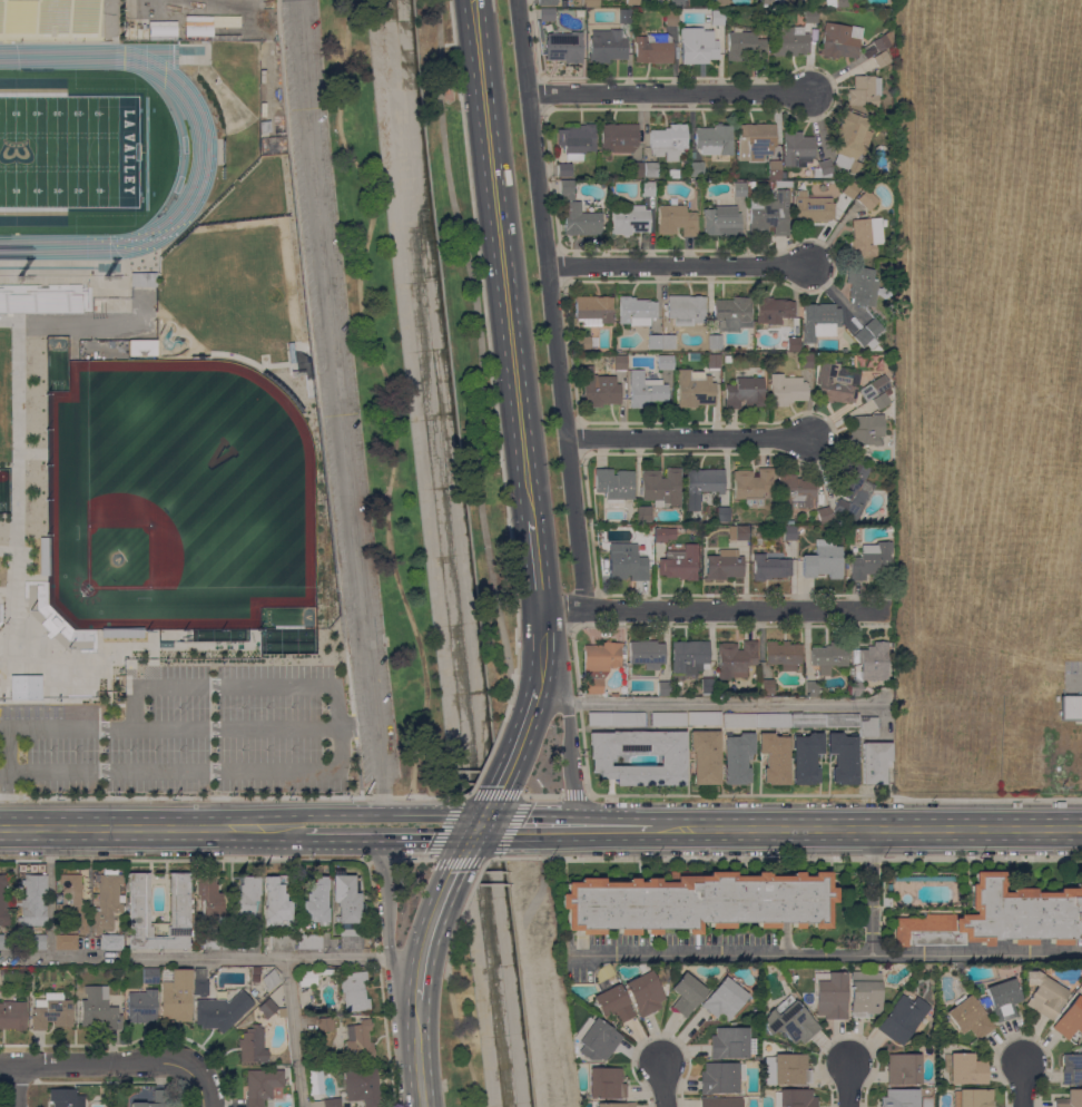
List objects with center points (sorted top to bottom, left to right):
building: (549, 2)
building: (632, 2)
building: (677, 2)
building: (766, 2)
building: (590, 3)
building: (721, 3)
building: (842, 3)
building: (810, 16)
building: (624, 17)
building: (715, 17)
building: (671, 18)
building: (49, 20)
building: (544, 20)
building: (161, 28)
road: (534, 39)
building: (790, 41)
building: (838, 41)
building: (881, 43)
building: (607, 46)
building: (564, 47)
building: (698, 48)
building: (746, 48)
building: (653, 49)
building: (881, 59)
building: (865, 91)
road: (669, 94)
road: (541, 95)
building: (265, 127)
building: (850, 133)
building: (619, 137)
building: (714, 139)
building: (576, 140)
building: (668, 141)
track: (203, 145)
building: (758, 146)
building: (798, 150)
park: (69, 151)
building: (825, 167)
building: (853, 168)
building: (637, 169)
building: (650, 169)
building: (697, 169)
building: (564, 170)
building: (672, 174)
road: (550, 180)
building: (697, 184)
building: (766, 185)
building: (647, 188)
building: (739, 189)
building: (850, 189)
building: (867, 200)
building: (813, 209)
building: (577, 214)
building: (769, 214)
building: (629, 221)
building: (676, 221)
building: (721, 221)
building: (866, 236)
road: (502, 259)
building: (877, 264)
road: (680, 266)
building: (142, 280)
building: (863, 287)
building: (40, 298)
road: (550, 305)
building: (592, 310)
building: (686, 310)
building: (637, 312)
building: (775, 312)
building: (732, 313)
parking lot: (329, 320)
building: (819, 321)
building: (873, 326)
building: (864, 339)
building: (655, 342)
building: (668, 342)
building: (714, 342)
road: (476, 343)
building: (583, 343)
building: (791, 345)
building: (141, 347)
road: (570, 347)
park: (466, 351)
building: (714, 361)
building: (806, 361)
building: (620, 362)
building: (666, 363)
building: (760, 370)
building: (189, 381)
building: (835, 384)
building: (877, 385)
building: (694, 389)
building: (787, 390)
building: (647, 391)
building: (600, 392)
road: (388, 393)
building: (744, 393)
road: (316, 399)
building: (881, 400)
park: (381, 401)
road: (494, 402)
road: (338, 413)
building: (866, 431)
road: (689, 438)
building: (613, 484)
building: (702, 486)
building: (751, 486)
road: (17, 487)
building: (661, 487)
building: (850, 491)
building: (794, 492)
park: (174, 501)
building: (643, 515)
building: (722, 515)
building: (824, 515)
building: (788, 522)
building: (800, 530)
building: (789, 532)
building: (738, 533)
building: (663, 535)
building: (187, 537)
road: (534, 537)
building: (42, 556)
building: (823, 560)
building: (626, 562)
building: (870, 562)
building: (679, 564)
building: (724, 565)
building: (770, 566)
building: (847, 568)
road: (539, 582)
road: (677, 596)
road: (716, 610)
building: (57, 621)
building: (121, 633)
road: (107, 652)
building: (647, 654)
building: (784, 655)
building: (689, 657)
building: (829, 657)
building: (736, 659)
building: (872, 662)
building: (599, 664)
parking lot: (1073, 667)
building: (852, 670)
road: (1075, 683)
building: (23, 687)
building: (767, 687)
building: (663, 688)
building: (810, 688)
building: (856, 688)
building: (622, 689)
road: (108, 690)
road: (535, 694)
road: (724, 702)
building: (1070, 708)
building: (616, 717)
building: (668, 717)
building: (702, 717)
building: (738, 719)
building: (773, 719)
building: (808, 721)
building: (842, 721)
road: (717, 727)
building: (868, 727)
road: (187, 728)
parking lot: (186, 736)
road: (570, 744)
parking lot: (370, 752)
building: (671, 755)
building: (704, 755)
building: (774, 757)
building: (806, 757)
building: (843, 757)
building: (737, 758)
building: (874, 760)
road: (332, 771)
road: (574, 795)
road: (594, 795)
road: (542, 796)
road: (233, 797)
road: (465, 797)
road: (493, 801)
road: (466, 825)
road: (150, 826)
road: (309, 826)
road: (384, 826)
traffic signals: (481, 826)
road: (493, 826)
road: (579, 826)
road: (867, 827)
road: (469, 845)
road: (785, 858)
road: (413, 859)
road: (183, 860)
road: (380, 860)
building: (110, 889)
road: (49, 891)
road: (870, 891)
building: (246, 899)
building: (179, 900)
building: (209, 900)
building: (347, 900)
building: (33, 901)
building: (276, 902)
building: (316, 902)
building: (697, 902)
building: (887, 902)
building: (3, 903)
road: (462, 909)
building: (70, 911)
building: (999, 917)
road: (386, 924)
road: (429, 932)
building: (352, 938)
building: (4, 942)
building: (282, 942)
building: (309, 942)
building: (36, 943)
building: (215, 943)
building: (240, 943)
building: (115, 944)
road: (49, 956)
road: (827, 956)
road: (263, 959)
building: (256, 971)
building: (313, 976)
building: (150, 977)
building: (255, 979)
road: (530, 979)
building: (270, 980)
building: (200, 982)
road: (380, 982)
building: (354, 991)
building: (254, 993)
building: (645, 993)
building: (176, 995)
building: (687, 995)
building: (866, 995)
building: (1044, 995)
building: (832, 996)
building: (725, 999)
building: (1004, 1000)
building: (614, 1003)
building: (142, 1007)
building: (267, 1008)
building: (99, 1009)
building: (222, 1011)
building: (51, 1012)
building: (12, 1016)
building: (970, 1017)
building: (903, 1019)
building: (1070, 1019)
building: (790, 1021)
building: (324, 1025)
road: (294, 1032)
park: (458, 1033)
road: (460, 1036)
building: (596, 1039)
building: (358, 1041)
building: (729, 1044)
building: (253, 1046)
road: (416, 1055)
road: (96, 1064)
building: (787, 1069)
building: (904, 1069)
building: (966, 1069)
building: (1072, 1069)
building: (719, 1078)
building: (314, 1080)
building: (607, 1082)
road: (1023, 1084)
road: (662, 1085)
road: (847, 1085)
road: (14, 1086)
building: (263, 1086)
road: (201, 1087)
building: (363, 1087)
building: (66, 1098)
building: (795, 1098)
building: (899, 1098)
building: (972, 1098)
building: (1070, 1099)
building: (155, 1100)
building: (332, 1103)
building: (720, 1103)
building: (616, 1105)

